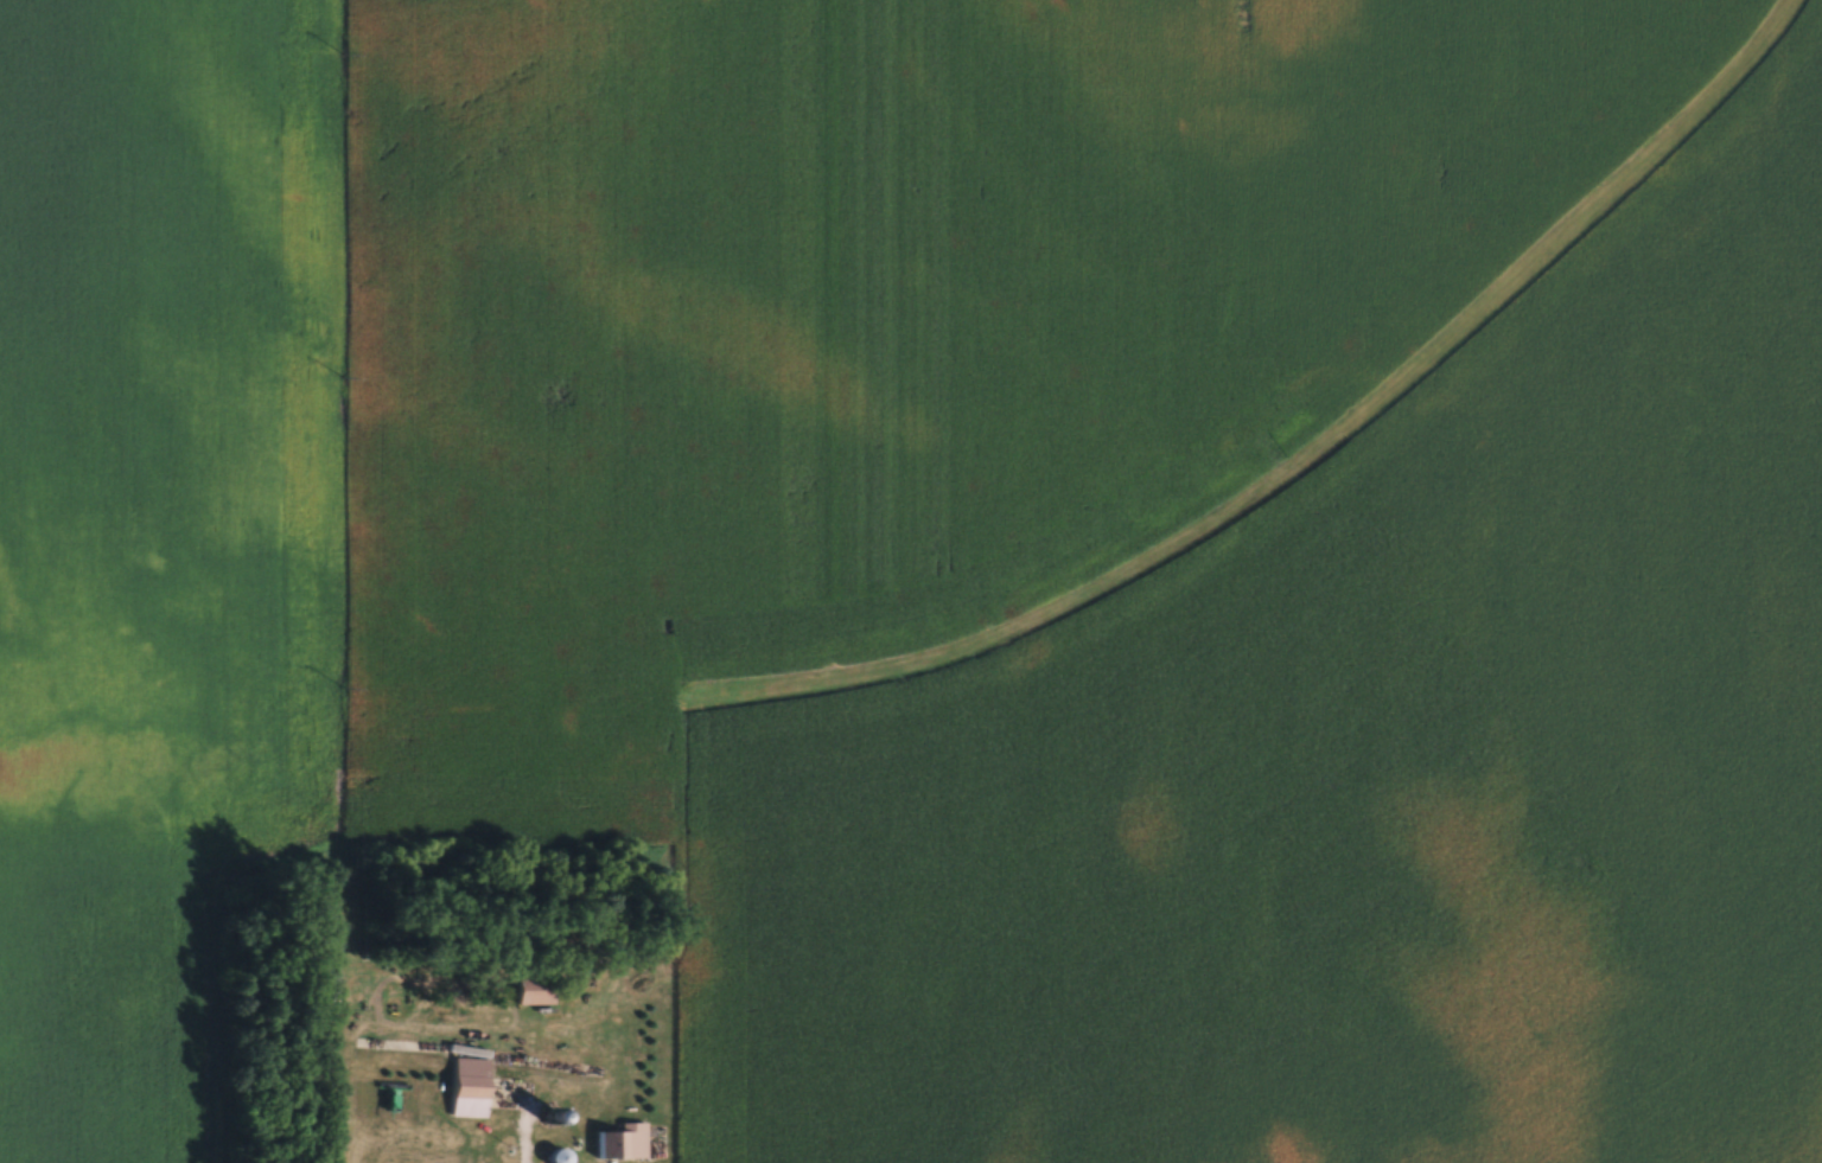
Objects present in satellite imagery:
road: (1236, 758)
building: (535, 991)
building: (469, 1087)
building: (623, 1143)
building: (558, 1157)

